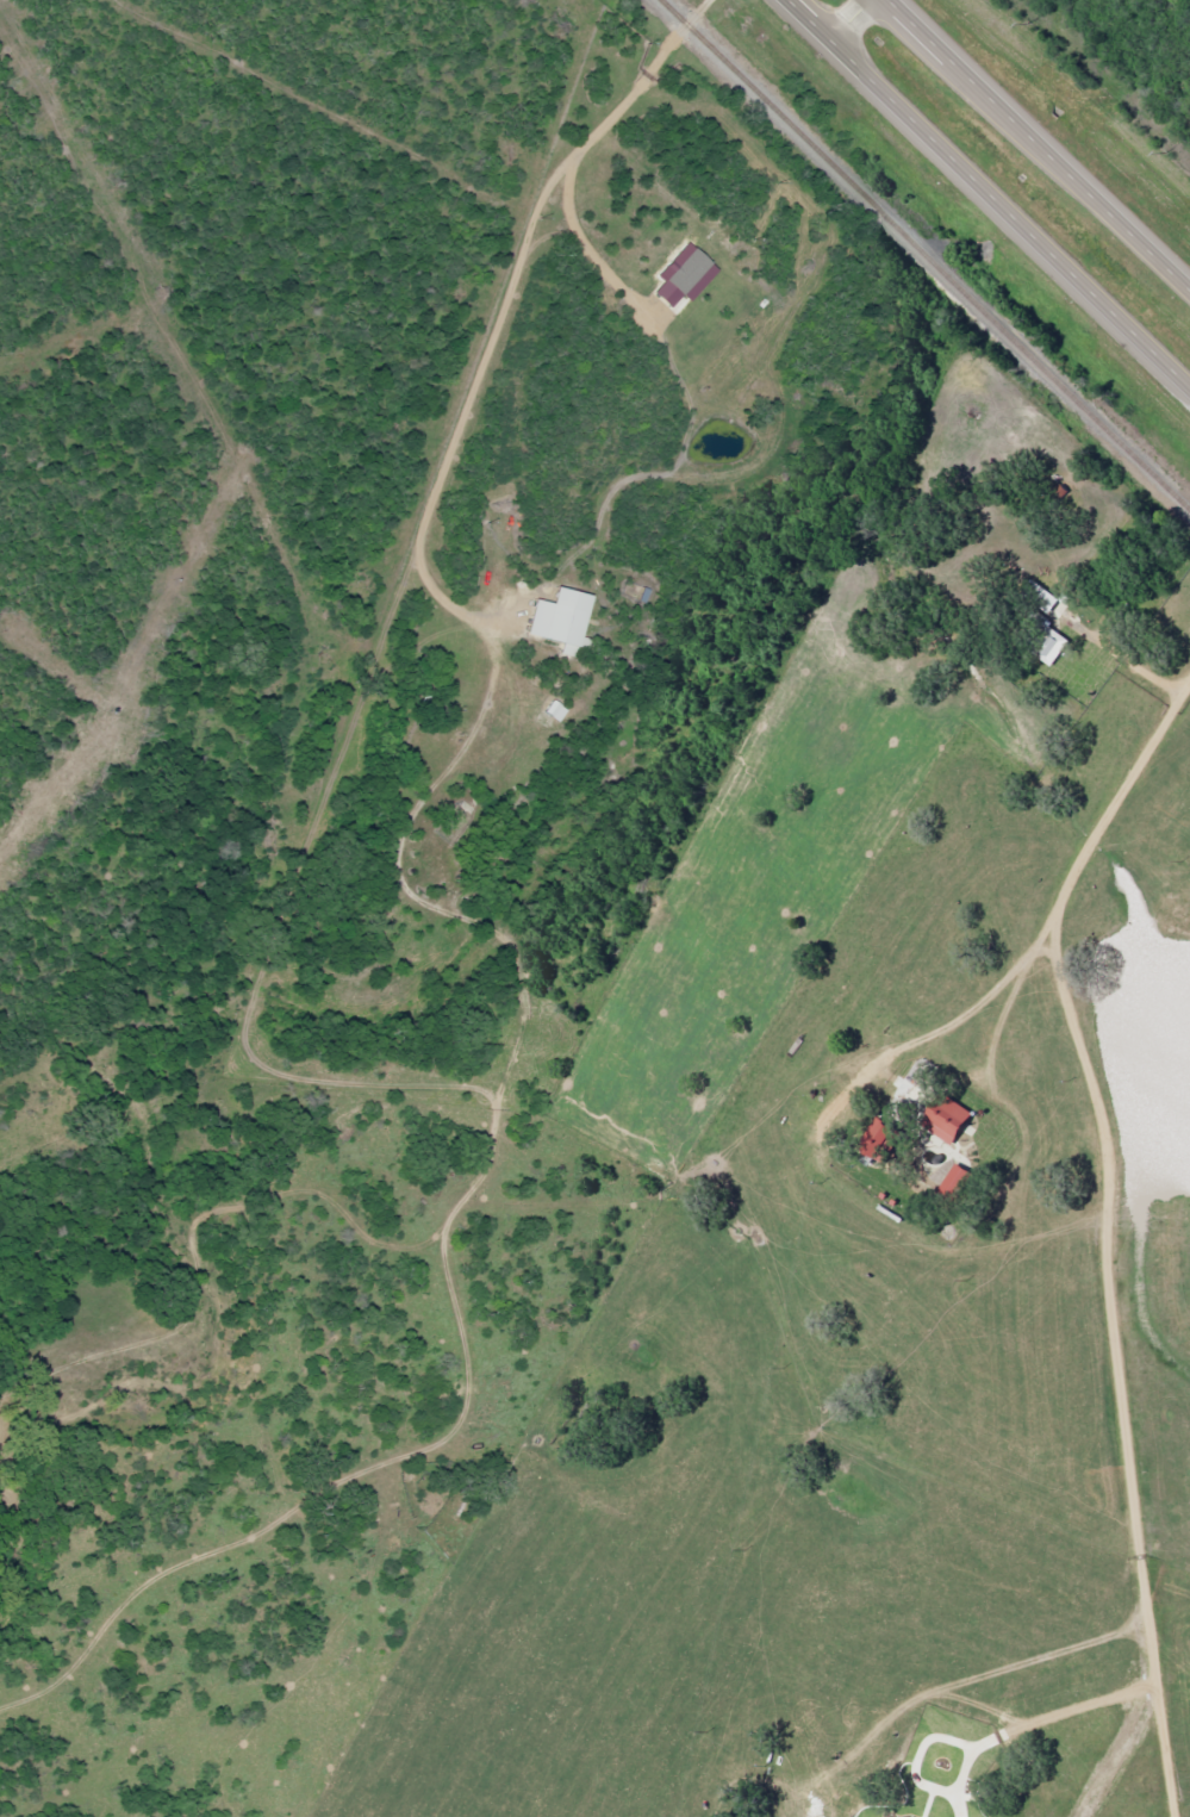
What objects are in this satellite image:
road: (849, 19)
road: (1040, 143)
road: (989, 193)
railway: (922, 256)
building: (686, 279)
road: (503, 295)
building: (562, 621)
building: (1054, 647)
road: (1126, 820)
road: (1039, 1003)
building: (952, 1121)
building: (958, 1181)
road: (487, 1423)
building: (890, 1816)

